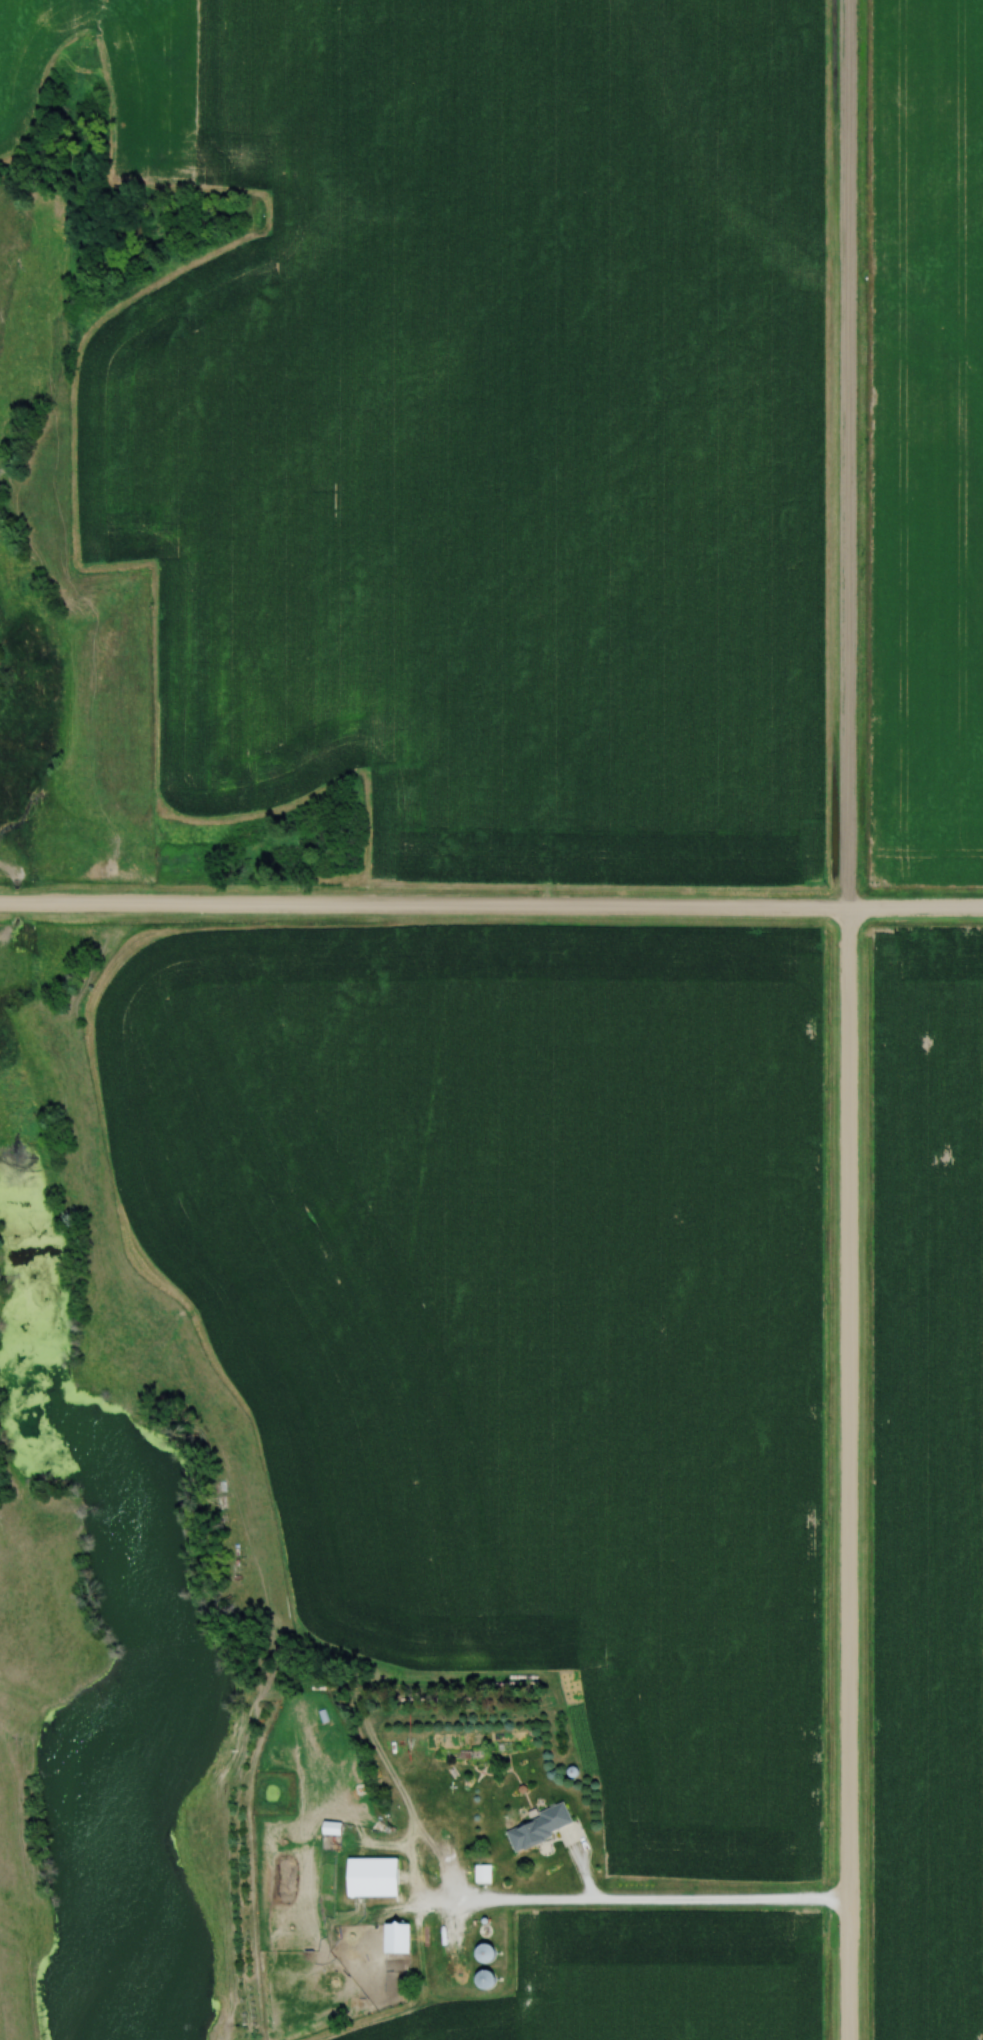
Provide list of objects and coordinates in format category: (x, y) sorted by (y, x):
road: (491, 903)
road: (842, 1020)
building: (539, 1826)
building: (335, 1829)
building: (483, 1873)
building: (374, 1878)
road: (686, 1900)
building: (399, 1940)
building: (486, 1952)

